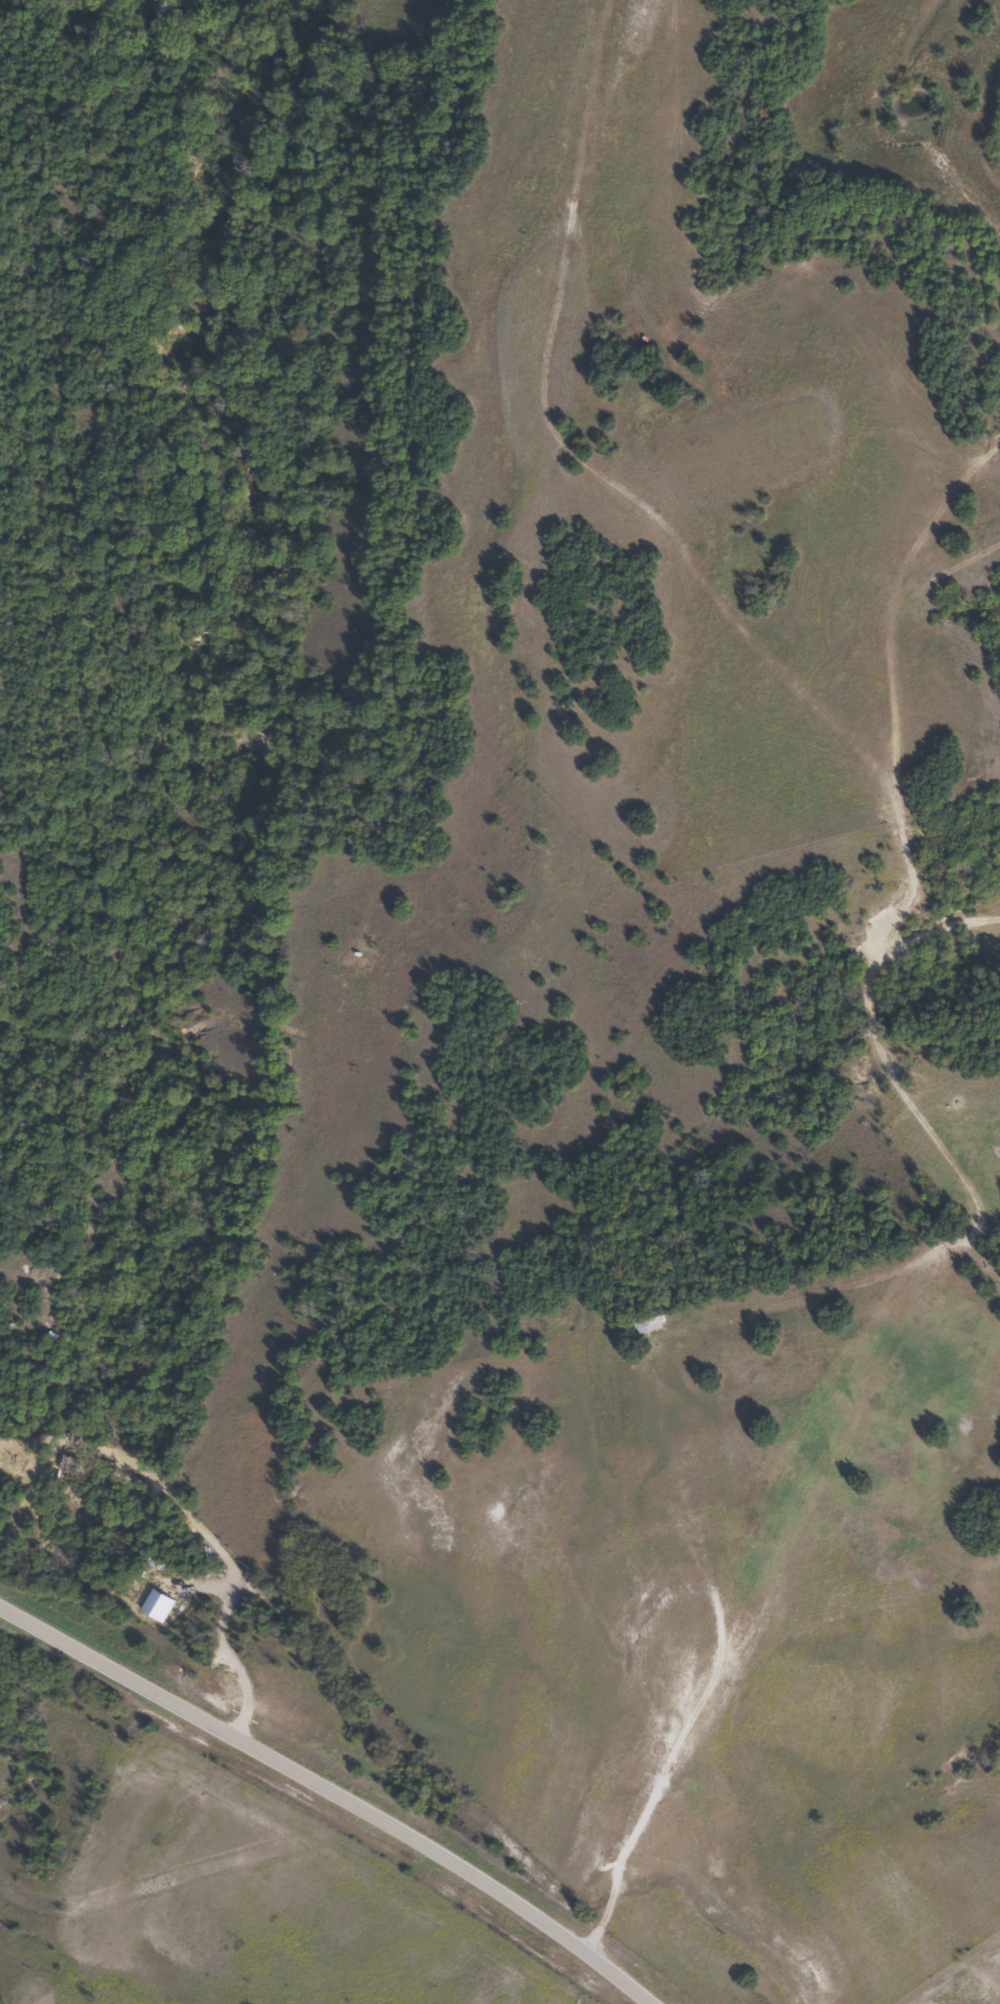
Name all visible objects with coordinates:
road: (329, 1793)

